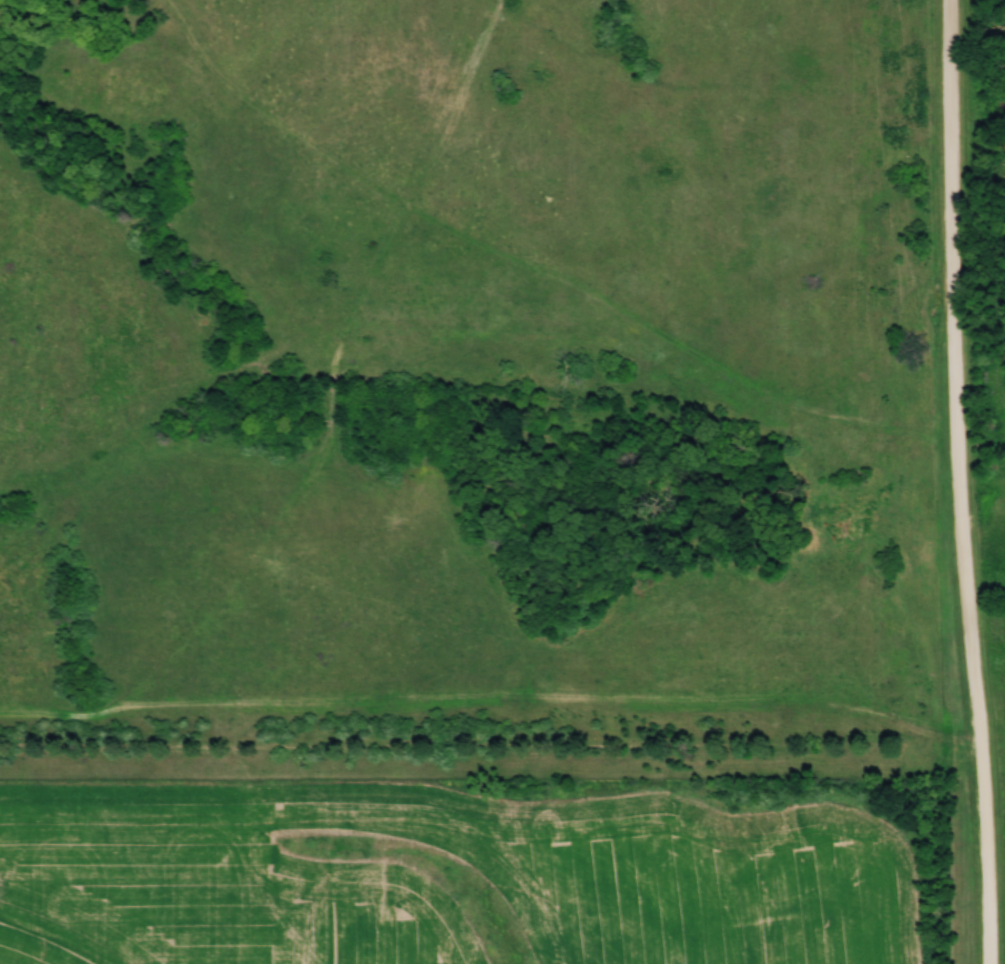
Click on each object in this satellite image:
road: (957, 398)
park: (983, 403)
road: (988, 880)

